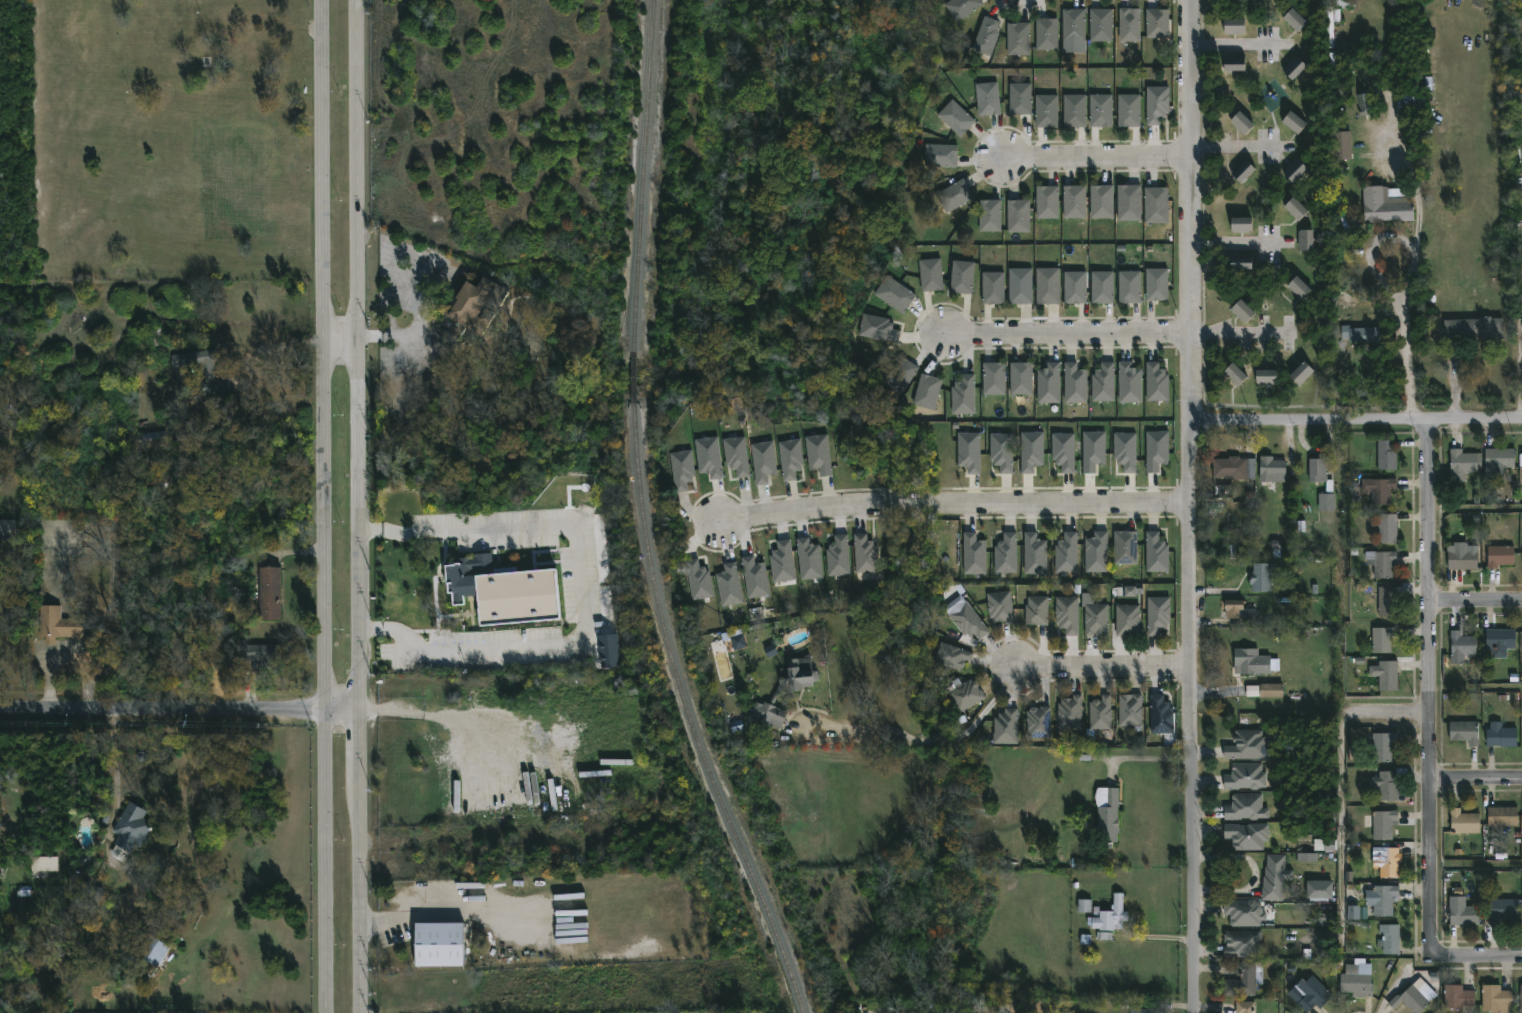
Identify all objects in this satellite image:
building: (962, 8)
building: (1295, 20)
building: (1328, 21)
building: (1075, 24)
building: (1103, 24)
building: (1157, 24)
building: (1129, 25)
building: (1238, 26)
building: (1048, 33)
building: (988, 35)
building: (1020, 38)
road: (1233, 44)
building: (1234, 64)
building: (1295, 68)
building: (987, 99)
building: (1020, 99)
building: (1159, 104)
building: (1362, 104)
building: (1046, 111)
building: (1074, 111)
building: (1101, 111)
building: (1129, 111)
building: (956, 118)
building: (1241, 123)
building: (1294, 123)
road: (1395, 127)
road: (1234, 146)
building: (1342, 146)
building: (940, 156)
road: (1097, 156)
building: (1295, 171)
building: (1243, 172)
railway: (641, 176)
building: (955, 196)
building: (1047, 202)
building: (1074, 202)
building: (1102, 202)
building: (1129, 203)
building: (1156, 205)
building: (1386, 206)
building: (1296, 209)
building: (990, 216)
building: (1018, 216)
building: (1241, 225)
building: (1309, 240)
road: (1240, 242)
building: (1241, 263)
building: (931, 275)
building: (962, 277)
building: (1156, 284)
road: (1386, 284)
building: (1020, 286)
building: (1047, 286)
building: (1102, 287)
building: (1129, 287)
building: (993, 288)
building: (1075, 288)
building: (1299, 288)
building: (895, 295)
building: (474, 308)
building: (1242, 312)
building: (878, 329)
building: (1475, 329)
road: (1069, 331)
road: (1240, 333)
building: (1362, 335)
road: (398, 336)
road: (340, 344)
road: (276, 349)
road: (325, 356)
road: (356, 356)
building: (204, 369)
building: (1301, 374)
building: (901, 375)
building: (1235, 375)
building: (1267, 376)
building: (994, 379)
building: (1021, 379)
railway: (631, 381)
building: (1103, 383)
building: (1156, 383)
building: (1049, 384)
building: (1075, 384)
building: (1129, 384)
building: (927, 392)
building: (963, 396)
road: (1357, 418)
building: (149, 441)
building: (1031, 451)
building: (1093, 451)
building: (1156, 451)
building: (969, 452)
building: (1002, 452)
building: (1064, 452)
building: (1125, 452)
building: (819, 454)
building: (1386, 454)
building: (736, 456)
building: (709, 457)
building: (1500, 457)
building: (790, 459)
building: (763, 462)
building: (1462, 464)
building: (1234, 467)
building: (1272, 469)
building: (682, 470)
building: (1318, 470)
building: (1381, 490)
building: (1327, 499)
road: (1196, 506)
road: (954, 509)
building: (7, 529)
building: (1387, 529)
building: (1125, 548)
building: (1067, 553)
building: (1096, 553)
building: (1156, 553)
building: (1006, 554)
building: (866, 555)
building: (974, 555)
building: (1035, 555)
building: (838, 556)
building: (1500, 556)
building: (1463, 558)
building: (809, 560)
building: (782, 562)
building: (1382, 562)
building: (1262, 576)
building: (755, 578)
building: (698, 580)
building: (729, 586)
building: (477, 587)
road: (581, 591)
building: (1130, 592)
building: (267, 593)
road: (1476, 600)
building: (1388, 602)
building: (1002, 607)
building: (1238, 609)
building: (1036, 610)
building: (1067, 614)
building: (1159, 615)
building: (1096, 619)
building: (1127, 619)
building: (970, 622)
building: (62, 626)
building: (1383, 639)
building: (1501, 640)
building: (738, 642)
building: (1461, 647)
building: (609, 651)
building: (261, 652)
building: (951, 656)
building: (1255, 663)
road: (1104, 671)
building: (1387, 675)
building: (1521, 676)
building: (1271, 690)
building: (1252, 691)
building: (777, 696)
building: (965, 696)
road: (1387, 708)
road: (1431, 708)
road: (178, 709)
building: (1130, 710)
building: (1101, 714)
building: (1071, 715)
building: (1163, 716)
railway: (688, 719)
building: (1038, 722)
building: (1008, 727)
building: (1465, 732)
building: (1501, 735)
road: (930, 739)
building: (1246, 745)
building: (1383, 745)
road: (1145, 758)
building: (1247, 776)
road: (1477, 778)
building: (1387, 785)
building: (1246, 807)
building: (1109, 813)
building: (1502, 818)
building: (1464, 822)
building: (133, 824)
building: (1384, 824)
building: (1248, 835)
building: (1324, 845)
building: (1307, 858)
building: (0, 859)
road: (327, 862)
road: (357, 862)
building: (43, 863)
building: (1390, 863)
building: (1277, 877)
building: (1322, 888)
building: (1383, 899)
road: (438, 903)
building: (1084, 906)
building: (1505, 909)
building: (1244, 913)
building: (1112, 914)
building: (1357, 914)
building: (1464, 916)
building: (1389, 939)
building: (1242, 943)
building: (439, 945)
building: (154, 951)
road: (1498, 956)
building: (1359, 979)
building: (1244, 980)
building: (1315, 994)
building: (1457, 997)
building: (1520, 998)
building: (1496, 999)
building: (1410, 1000)
building: (1246, 1007)
building: (1148, 1011)

